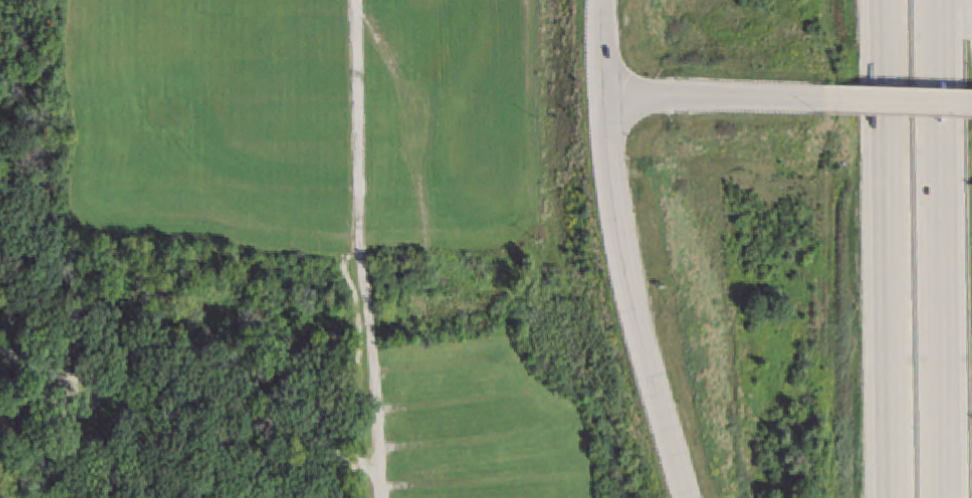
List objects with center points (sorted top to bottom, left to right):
road: (970, 5)
road: (721, 95)
road: (904, 100)
road: (79, 110)
parking lot: (304, 114)
road: (358, 119)
road: (417, 232)
road: (889, 249)
road: (940, 249)
road: (625, 252)
road: (10, 355)
road: (10, 359)
road: (357, 367)
road: (371, 367)
road: (205, 399)
building: (31, 408)
building: (14, 410)
building: (44, 423)
building: (18, 432)
building: (32, 434)

